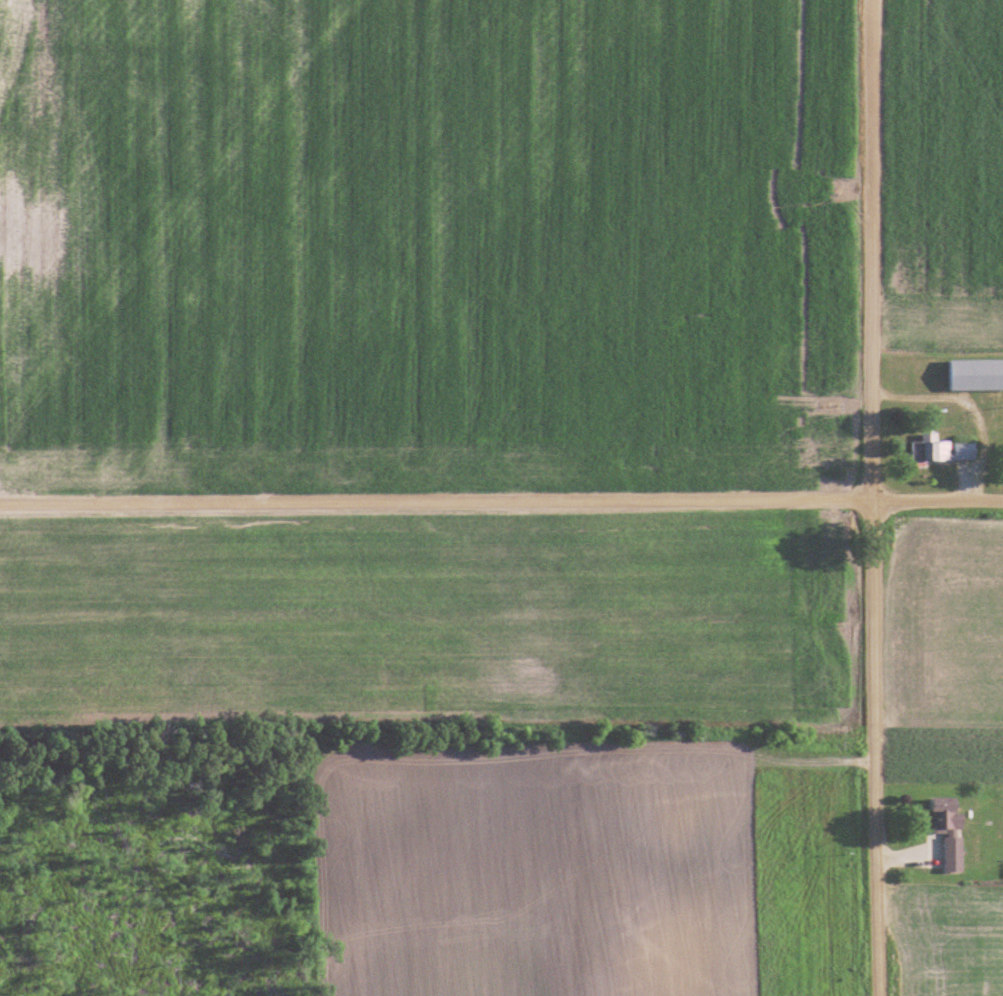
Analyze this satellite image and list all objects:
building: (975, 375)
building: (941, 450)
road: (869, 498)
road: (501, 502)
building: (949, 831)

